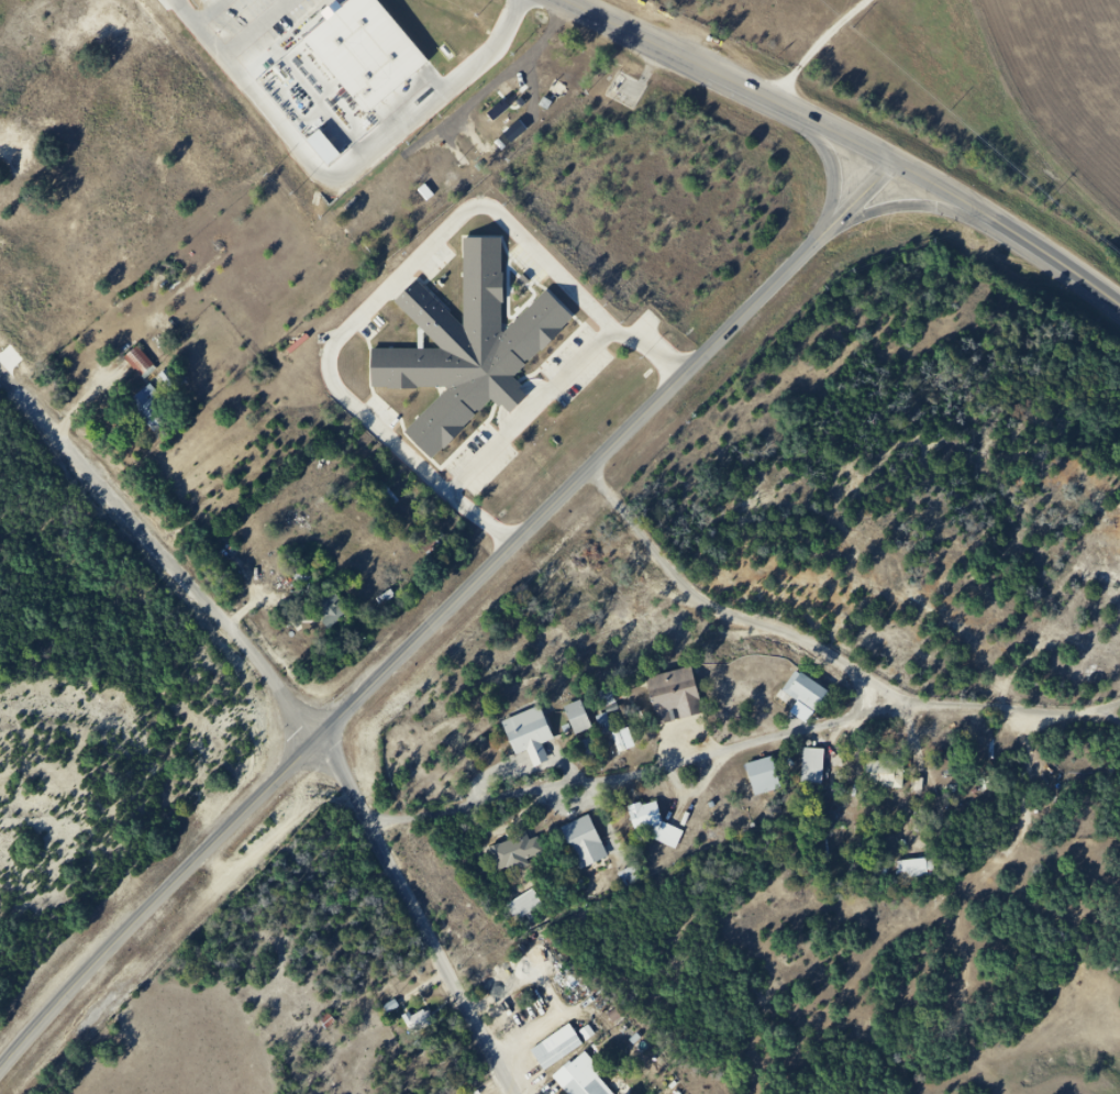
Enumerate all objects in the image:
road: (823, 47)
building: (359, 51)
building: (566, 78)
building: (508, 101)
road: (788, 109)
road: (841, 165)
road: (919, 206)
road: (1062, 264)
road: (400, 276)
building: (466, 347)
road: (14, 364)
parking lot: (573, 366)
building: (157, 384)
road: (531, 411)
parking lot: (481, 462)
building: (302, 577)
building: (336, 615)
road: (443, 615)
road: (835, 651)
building: (810, 699)
building: (624, 701)
building: (683, 701)
road: (313, 711)
building: (584, 723)
building: (536, 740)
building: (588, 748)
building: (820, 773)
road: (648, 780)
building: (772, 781)
building: (891, 782)
building: (661, 826)
building: (590, 847)
building: (521, 853)
building: (920, 874)
building: (533, 909)
building: (420, 1021)
building: (563, 1051)
building: (587, 1079)

